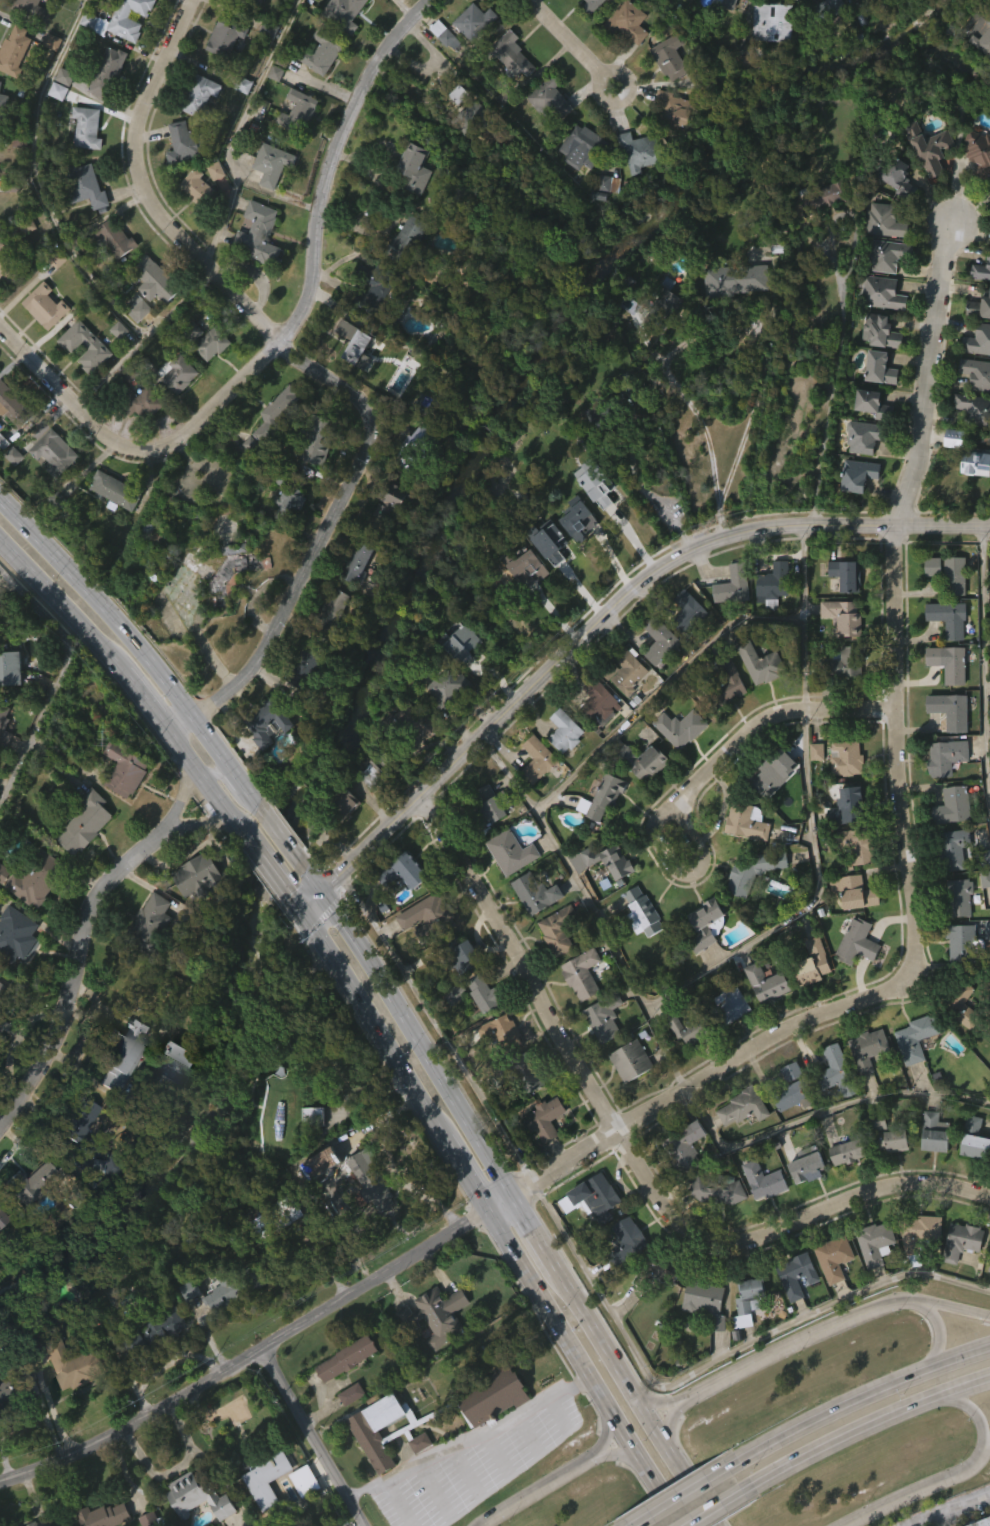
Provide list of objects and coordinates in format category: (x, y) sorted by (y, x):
building: (371, 0)
building: (541, 0)
building: (111, 2)
building: (880, 2)
building: (251, 3)
building: (726, 3)
building: (593, 5)
building: (682, 5)
building: (29, 8)
building: (290, 9)
building: (828, 9)
building: (344, 12)
building: (853, 12)
building: (74, 19)
building: (120, 19)
building: (720, 20)
building: (475, 21)
building: (628, 21)
building: (583, 22)
building: (773, 22)
building: (822, 27)
building: (444, 34)
road: (567, 35)
building: (982, 36)
building: (226, 38)
building: (341, 39)
building: (118, 48)
building: (13, 50)
building: (323, 51)
building: (470, 53)
road: (438, 54)
building: (623, 54)
building: (767, 55)
building: (512, 56)
building: (673, 57)
road: (413, 63)
building: (977, 65)
building: (441, 67)
building: (221, 69)
building: (107, 72)
building: (48, 74)
road: (633, 79)
building: (0, 83)
building: (318, 86)
building: (509, 87)
building: (666, 90)
building: (198, 95)
building: (550, 97)
building: (2, 105)
building: (102, 105)
building: (272, 105)
building: (61, 108)
building: (299, 111)
building: (676, 111)
building: (472, 119)
building: (54, 123)
building: (86, 127)
building: (195, 127)
building: (546, 133)
building: (1, 137)
building: (185, 143)
building: (294, 144)
building: (669, 144)
building: (583, 147)
building: (930, 147)
building: (641, 151)
building: (979, 152)
building: (83, 160)
building: (272, 162)
building: (413, 169)
building: (179, 175)
building: (897, 176)
building: (578, 179)
building: (925, 181)
building: (635, 185)
building: (976, 186)
building: (85, 187)
building: (607, 187)
building: (198, 189)
building: (821, 197)
building: (265, 198)
building: (410, 201)
building: (211, 202)
building: (890, 205)
building: (83, 218)
building: (597, 219)
building: (987, 219)
building: (193, 220)
building: (886, 221)
road: (387, 229)
building: (815, 231)
building: (258, 234)
building: (114, 238)
building: (411, 240)
building: (888, 255)
building: (23, 258)
building: (9, 264)
building: (253, 267)
building: (403, 269)
building: (110, 271)
building: (982, 271)
building: (737, 279)
building: (155, 280)
building: (883, 293)
building: (537, 296)
building: (6, 302)
building: (45, 306)
building: (138, 308)
building: (664, 308)
building: (979, 308)
building: (731, 312)
building: (368, 319)
building: (664, 331)
building: (879, 332)
building: (41, 338)
road: (282, 339)
building: (359, 339)
building: (133, 340)
building: (206, 340)
building: (979, 340)
building: (95, 345)
building: (115, 362)
building: (134, 368)
building: (878, 368)
building: (977, 373)
building: (178, 374)
road: (322, 374)
building: (208, 376)
building: (353, 377)
building: (82, 378)
road: (834, 386)
building: (137, 401)
building: (871, 404)
building: (174, 405)
building: (13, 406)
building: (975, 410)
building: (605, 411)
road: (752, 415)
building: (272, 418)
road: (701, 422)
building: (134, 433)
building: (9, 437)
building: (867, 437)
building: (956, 438)
building: (319, 440)
building: (274, 447)
building: (591, 448)
building: (416, 449)
building: (54, 453)
building: (975, 464)
building: (949, 469)
building: (414, 470)
building: (857, 475)
building: (311, 480)
building: (595, 480)
building: (50, 482)
building: (9, 487)
building: (116, 491)
building: (972, 494)
building: (289, 496)
building: (395, 501)
building: (854, 506)
road: (661, 507)
building: (591, 515)
building: (577, 517)
building: (112, 523)
building: (390, 531)
building: (548, 539)
building: (573, 551)
building: (359, 562)
building: (847, 573)
building: (953, 576)
building: (230, 580)
building: (734, 584)
building: (773, 584)
building: (353, 594)
building: (928, 598)
building: (522, 599)
road: (622, 602)
road: (57, 603)
building: (0, 608)
building: (331, 608)
building: (689, 611)
building: (843, 615)
building: (768, 617)
road: (803, 617)
building: (949, 617)
building: (727, 618)
building: (330, 637)
building: (660, 640)
road: (133, 642)
building: (682, 643)
building: (838, 648)
building: (944, 650)
building: (761, 662)
building: (845, 662)
building: (950, 662)
building: (10, 667)
building: (303, 667)
building: (625, 669)
building: (655, 673)
road: (57, 676)
building: (724, 682)
building: (446, 687)
road: (661, 687)
building: (930, 688)
building: (840, 695)
building: (756, 696)
building: (299, 699)
building: (599, 699)
building: (9, 700)
building: (624, 703)
road: (142, 704)
building: (951, 709)
building: (724, 712)
building: (267, 720)
building: (443, 720)
building: (4, 725)
building: (409, 725)
building: (680, 727)
building: (565, 730)
building: (593, 732)
road: (750, 734)
building: (945, 742)
building: (264, 754)
building: (413, 754)
building: (948, 756)
building: (538, 758)
building: (848, 758)
building: (675, 759)
building: (645, 760)
building: (560, 763)
road: (213, 767)
road: (898, 767)
building: (124, 768)
building: (3, 769)
building: (381, 769)
building: (776, 775)
building: (812, 783)
road: (208, 787)
building: (941, 788)
building: (842, 790)
building: (533, 791)
building: (638, 793)
building: (603, 797)
building: (120, 801)
building: (768, 803)
road: (177, 805)
building: (370, 805)
building: (850, 805)
building: (954, 805)
building: (989, 808)
building: (491, 809)
building: (346, 811)
building: (747, 821)
road: (195, 823)
building: (88, 825)
building: (598, 829)
road: (281, 832)
building: (341, 835)
building: (486, 836)
building: (856, 844)
building: (954, 848)
building: (512, 852)
building: (742, 853)
building: (79, 855)
building: (610, 859)
road: (268, 865)
building: (405, 870)
building: (4, 872)
building: (749, 873)
building: (204, 877)
building: (852, 877)
building: (37, 878)
road: (315, 878)
road: (334, 882)
building: (948, 882)
building: (506, 884)
building: (856, 891)
traffic signals: (325, 892)
building: (605, 892)
building: (535, 893)
building: (961, 896)
road: (315, 903)
building: (400, 903)
building: (747, 904)
road: (299, 905)
building: (30, 909)
building: (195, 909)
building: (983, 911)
building: (643, 912)
traffic signals: (306, 914)
building: (429, 914)
building: (149, 922)
building: (707, 923)
building: (531, 926)
building: (559, 929)
building: (955, 929)
building: (15, 934)
building: (988, 935)
building: (857, 940)
building: (965, 943)
building: (638, 944)
building: (461, 952)
building: (146, 954)
building: (700, 955)
road: (520, 960)
building: (553, 961)
building: (813, 963)
building: (14, 966)
building: (582, 974)
building: (850, 974)
building: (956, 975)
road: (80, 983)
building: (767, 983)
building: (459, 989)
road: (688, 991)
building: (485, 994)
building: (807, 994)
building: (6, 999)
building: (731, 1002)
building: (961, 1004)
building: (577, 1006)
building: (762, 1015)
building: (604, 1017)
building: (2, 1022)
building: (478, 1024)
building: (451, 1025)
building: (695, 1025)
building: (499, 1032)
building: (727, 1034)
building: (956, 1036)
building: (918, 1037)
road: (419, 1043)
road: (673, 1044)
building: (869, 1049)
building: (597, 1052)
building: (0, 1054)
building: (121, 1058)
building: (632, 1060)
building: (685, 1061)
building: (496, 1062)
building: (911, 1069)
building: (524, 1072)
building: (837, 1072)
building: (863, 1080)
building: (176, 1085)
building: (117, 1086)
building: (795, 1088)
building: (626, 1092)
building: (831, 1103)
building: (524, 1105)
building: (745, 1107)
building: (312, 1116)
road: (822, 1117)
building: (544, 1119)
building: (83, 1124)
building: (787, 1127)
building: (887, 1134)
building: (935, 1134)
building: (739, 1138)
building: (973, 1139)
building: (307, 1146)
building: (685, 1148)
building: (845, 1149)
building: (540, 1150)
building: (73, 1151)
road: (565, 1163)
building: (105, 1164)
building: (930, 1164)
building: (808, 1165)
building: (971, 1171)
building: (887, 1172)
road: (467, 1173)
building: (680, 1178)
building: (765, 1180)
building: (842, 1181)
building: (368, 1183)
building: (49, 1184)
building: (721, 1189)
road: (429, 1194)
building: (802, 1197)
building: (99, 1198)
building: (593, 1198)
road: (502, 1202)
building: (26, 1212)
building: (759, 1212)
building: (279, 1217)
building: (588, 1229)
road: (779, 1230)
road: (537, 1233)
building: (921, 1236)
building: (626, 1241)
building: (963, 1241)
building: (876, 1243)
building: (0, 1250)
building: (836, 1258)
building: (915, 1264)
building: (658, 1270)
building: (623, 1272)
building: (957, 1272)
building: (870, 1273)
building: (798, 1276)
road: (593, 1282)
building: (988, 1285)
building: (233, 1287)
building: (829, 1289)
building: (751, 1297)
building: (658, 1299)
building: (706, 1302)
building: (792, 1306)
road: (947, 1306)
building: (435, 1316)
building: (186, 1321)
building: (217, 1326)
road: (937, 1329)
building: (156, 1333)
building: (701, 1333)
building: (743, 1333)
road: (786, 1345)
building: (432, 1346)
road: (605, 1346)
road: (248, 1355)
building: (346, 1359)
building: (153, 1361)
building: (75, 1365)
building: (9, 1393)
building: (351, 1395)
building: (491, 1395)
building: (67, 1397)
road: (864, 1402)
road: (655, 1404)
road: (966, 1406)
road: (52, 1409)
road: (555, 1413)
building: (2, 1421)
road: (667, 1423)
building: (345, 1426)
building: (490, 1426)
road: (870, 1428)
building: (375, 1429)
road: (606, 1430)
road: (525, 1434)
road: (312, 1437)
road: (469, 1440)
road: (985, 1447)
road: (615, 1451)
road: (495, 1453)
building: (378, 1459)
road: (176, 1468)
road: (465, 1473)
road: (680, 1473)
building: (415, 1474)
building: (261, 1478)
road: (653, 1480)
road: (535, 1489)
road: (914, 1491)
road: (685, 1492)
road: (435, 1494)
building: (197, 1495)
building: (262, 1504)
road: (396, 1506)
road: (722, 1506)
road: (949, 1507)
building: (300, 1511)
building: (102, 1515)
building: (186, 1517)
building: (981, 1522)
building: (39, 1523)
building: (17, 1525)
building: (222, 1525)

